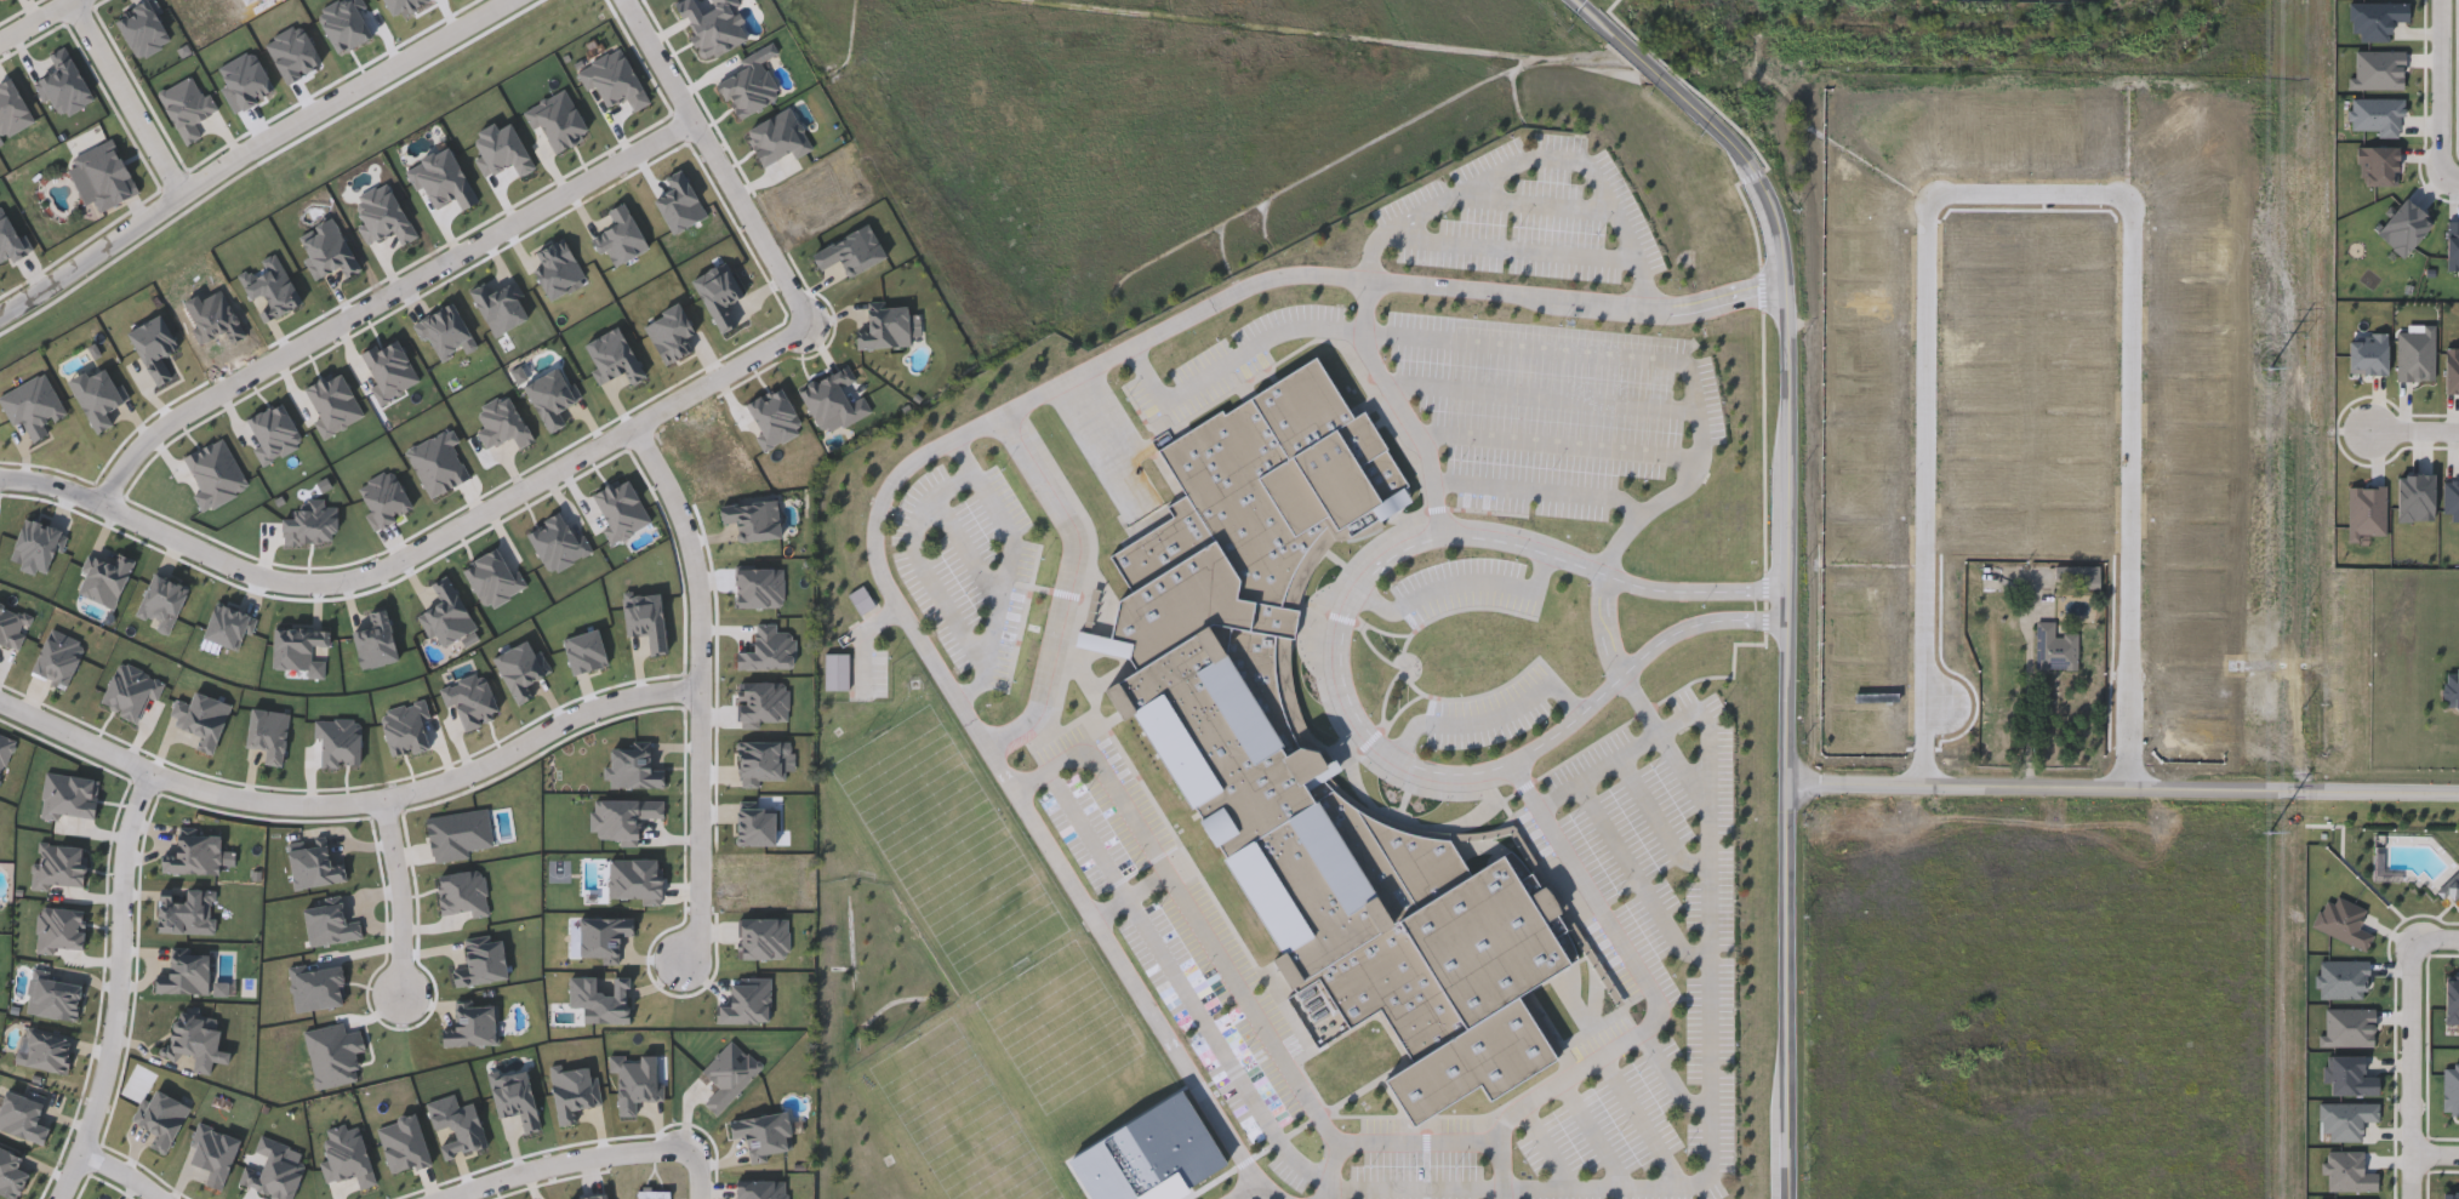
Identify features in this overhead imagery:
road: (36, 21)
road: (386, 76)
road: (2432, 91)
road: (129, 96)
road: (1535, 159)
road: (721, 160)
road: (2455, 175)
building: (2162, 177)
building: (104, 178)
road: (2021, 192)
building: (2227, 195)
road: (1534, 202)
road: (126, 234)
road: (1516, 252)
building: (2193, 270)
road: (386, 295)
road: (1816, 325)
road: (1236, 358)
road: (1792, 361)
power tower: (2270, 366)
road: (1693, 381)
road: (1542, 396)
road: (1403, 406)
road: (2414, 423)
road: (1563, 449)
road: (938, 451)
road: (1541, 491)
road: (2133, 503)
building: (1730, 504)
building: (1747, 504)
road: (1925, 508)
road: (422, 548)
road: (968, 554)
road: (928, 567)
road: (1010, 569)
road: (1459, 586)
road: (1071, 588)
building: (2054, 646)
road: (1343, 676)
building: (2452, 685)
road: (700, 690)
road: (1489, 715)
building: (1220, 729)
road: (2031, 740)
road: (1711, 742)
road: (1599, 772)
road: (350, 805)
road: (2123, 810)
road: (1659, 822)
power tower: (2267, 835)
road: (1639, 881)
road: (1149, 889)
road: (403, 901)
road: (1113, 910)
road: (2441, 933)
road: (120, 990)
road: (1250, 999)
road: (1656, 1000)
road: (1788, 1003)
road: (2413, 1064)
road: (1671, 1080)
road: (1643, 1123)
road: (1594, 1135)
road: (1546, 1147)
road: (2436, 1151)
road: (572, 1160)
road: (1334, 1171)
road: (120, 1176)
road: (695, 1177)
road: (1513, 1189)
road: (1248, 1192)

